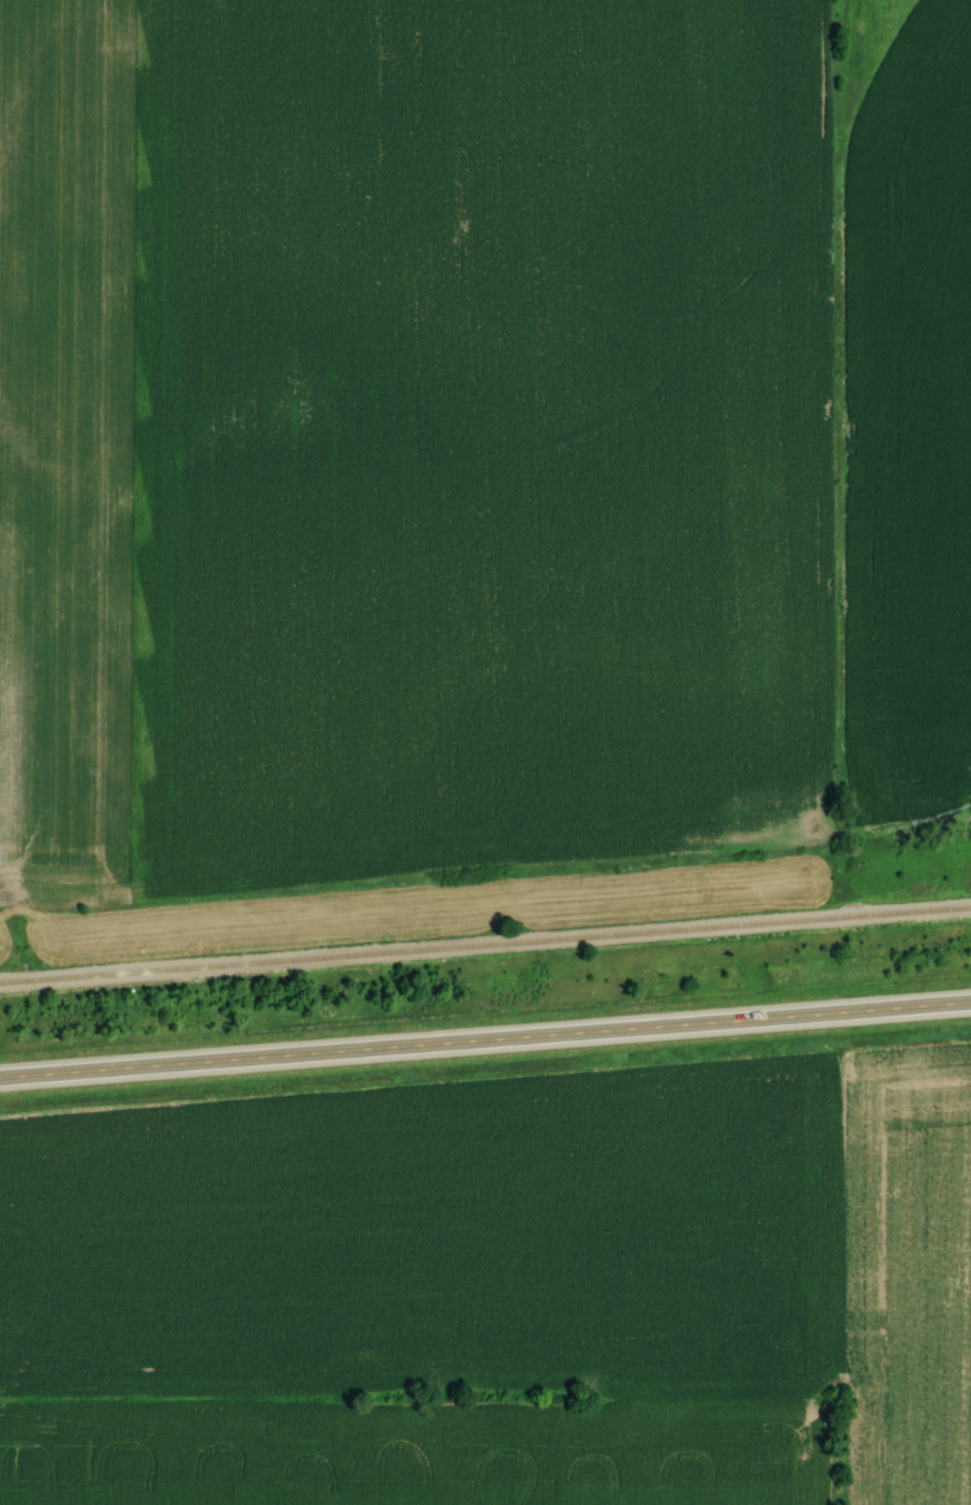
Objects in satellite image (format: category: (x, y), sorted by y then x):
railway: (485, 960)
road: (485, 1043)

